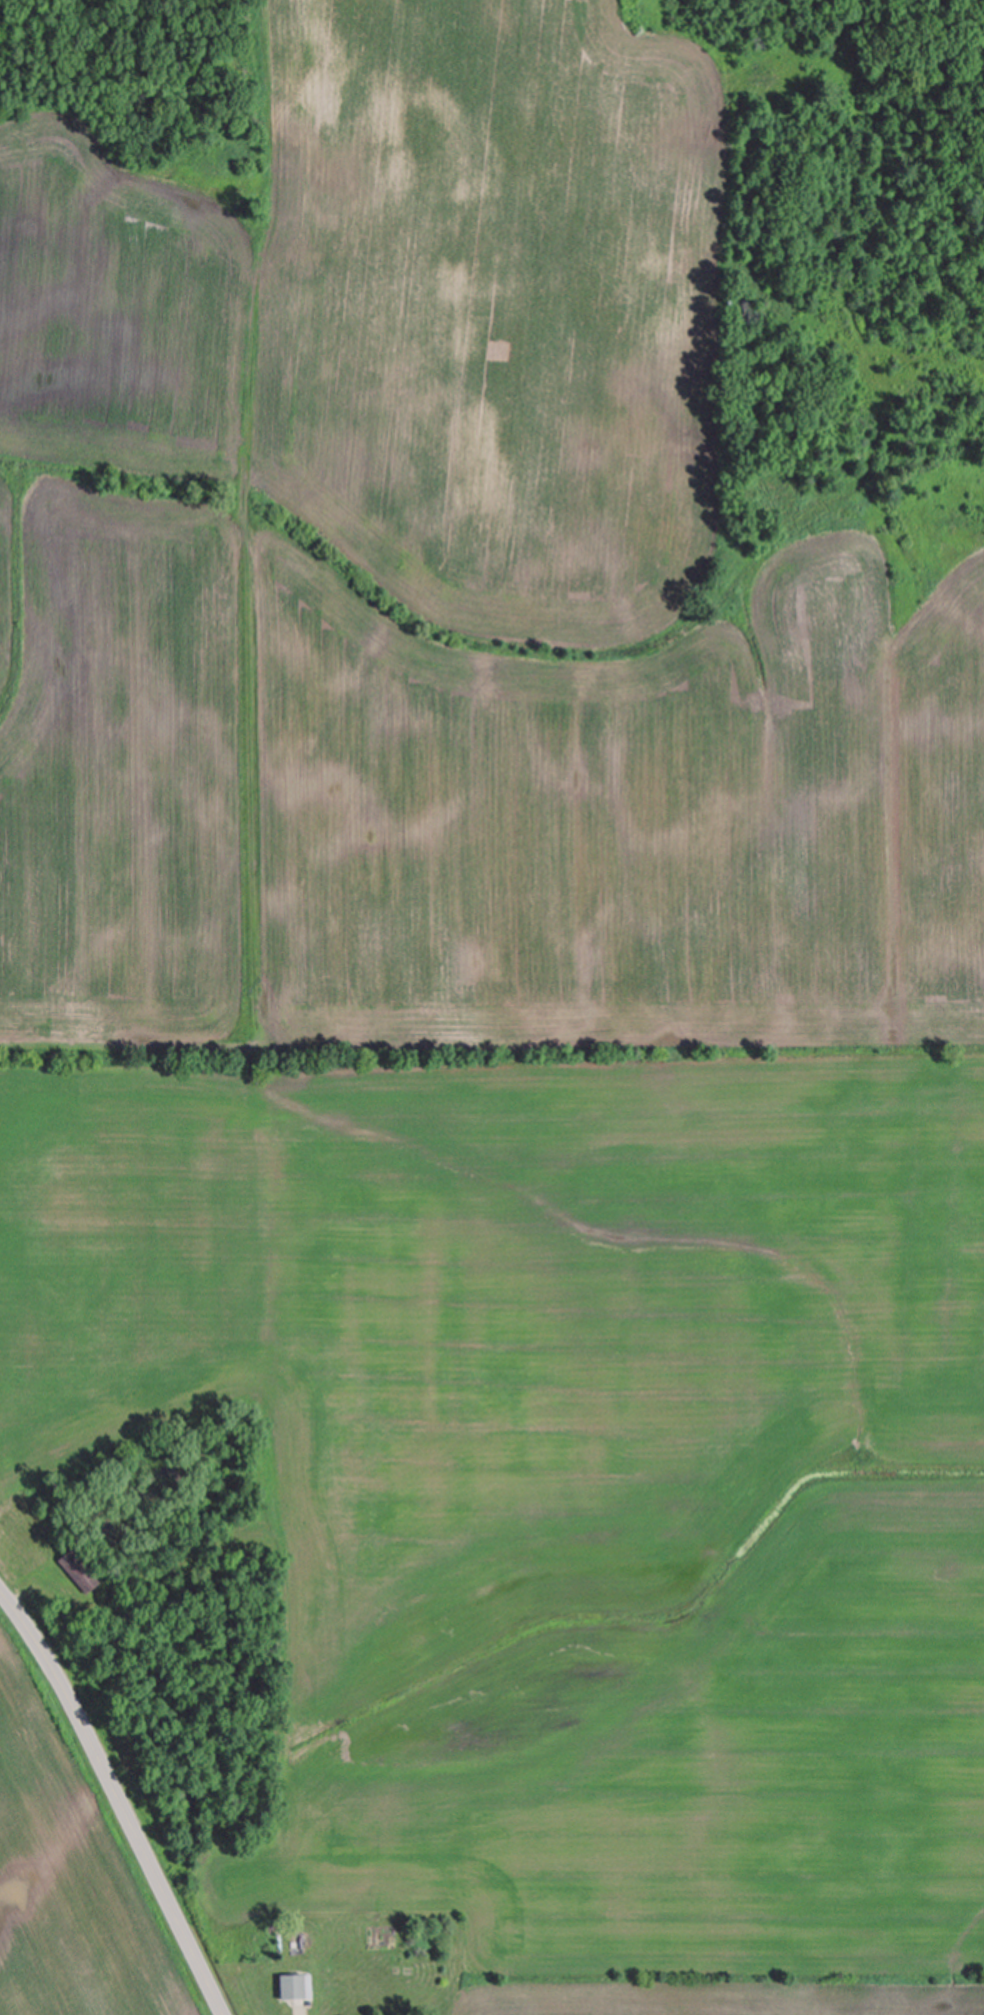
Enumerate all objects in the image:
building: (76, 1569)
road: (115, 1805)
building: (292, 1986)

